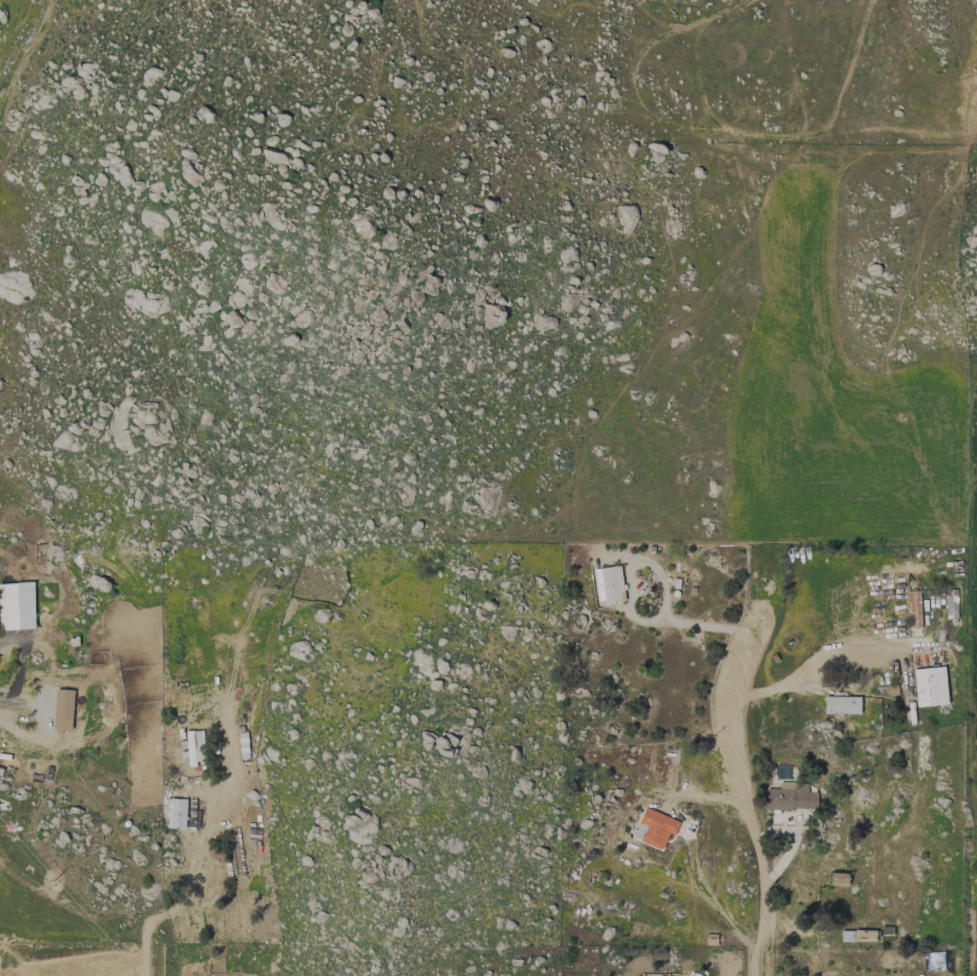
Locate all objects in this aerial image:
road: (657, 572)
building: (607, 584)
building: (59, 585)
building: (950, 606)
building: (8, 607)
building: (913, 609)
building: (929, 686)
building: (841, 705)
building: (62, 707)
road: (11, 729)
building: (194, 746)
building: (790, 797)
road: (742, 798)
building: (176, 812)
building: (654, 828)
building: (838, 878)
road: (90, 917)
road: (750, 975)

